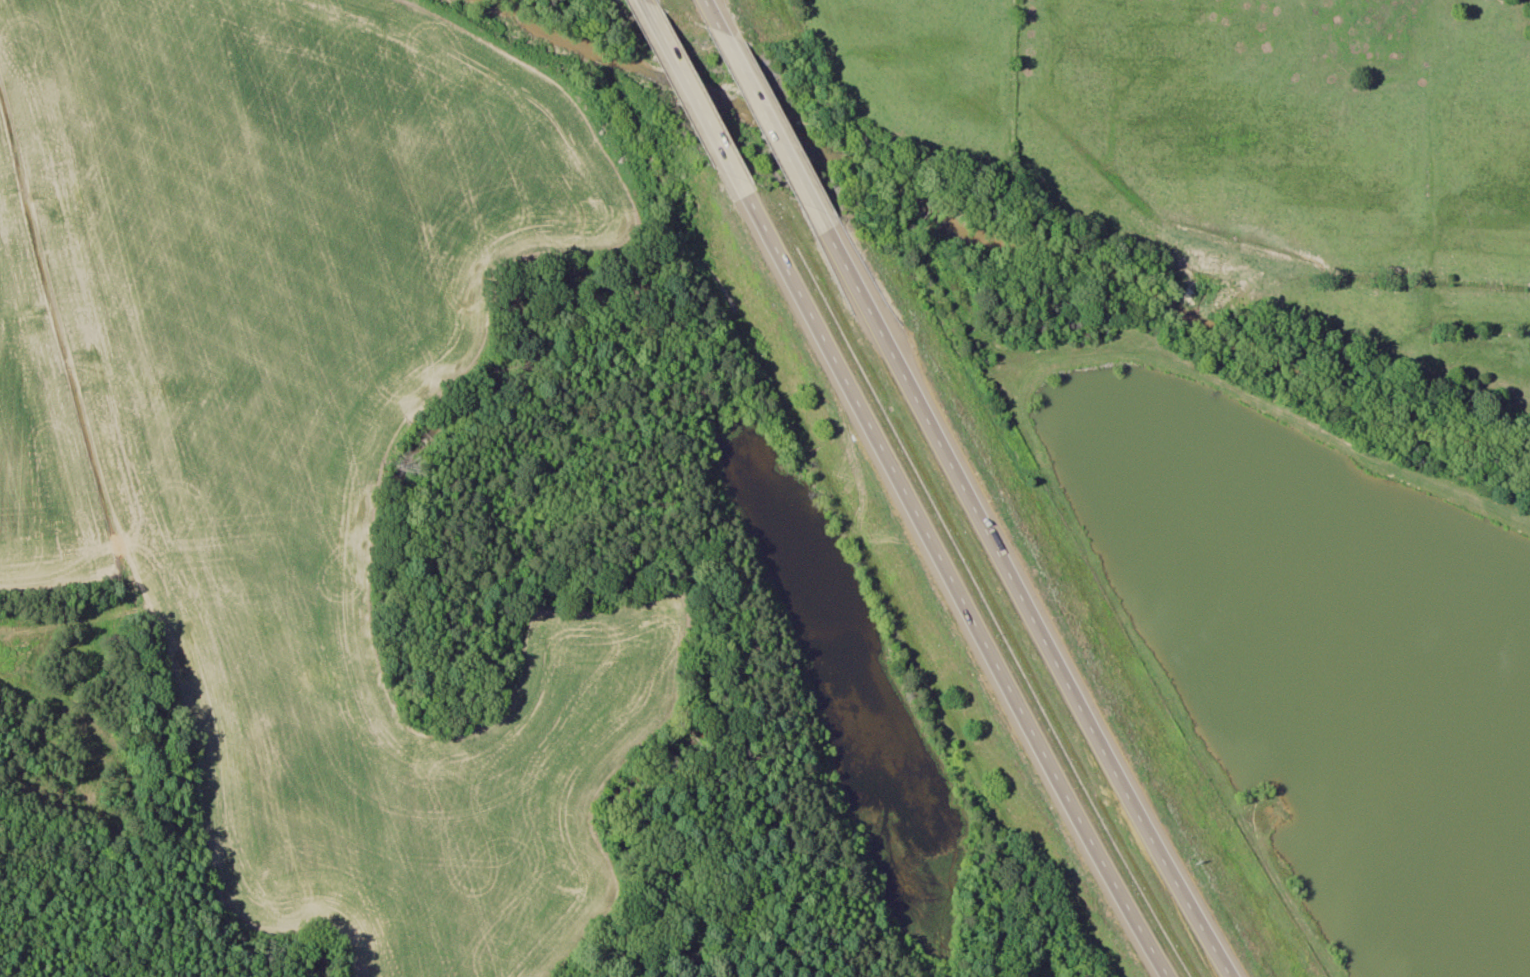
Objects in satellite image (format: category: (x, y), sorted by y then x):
road: (646, 0)
road: (712, 7)
road: (699, 98)
road: (772, 121)
road: (953, 588)
road: (1028, 602)

